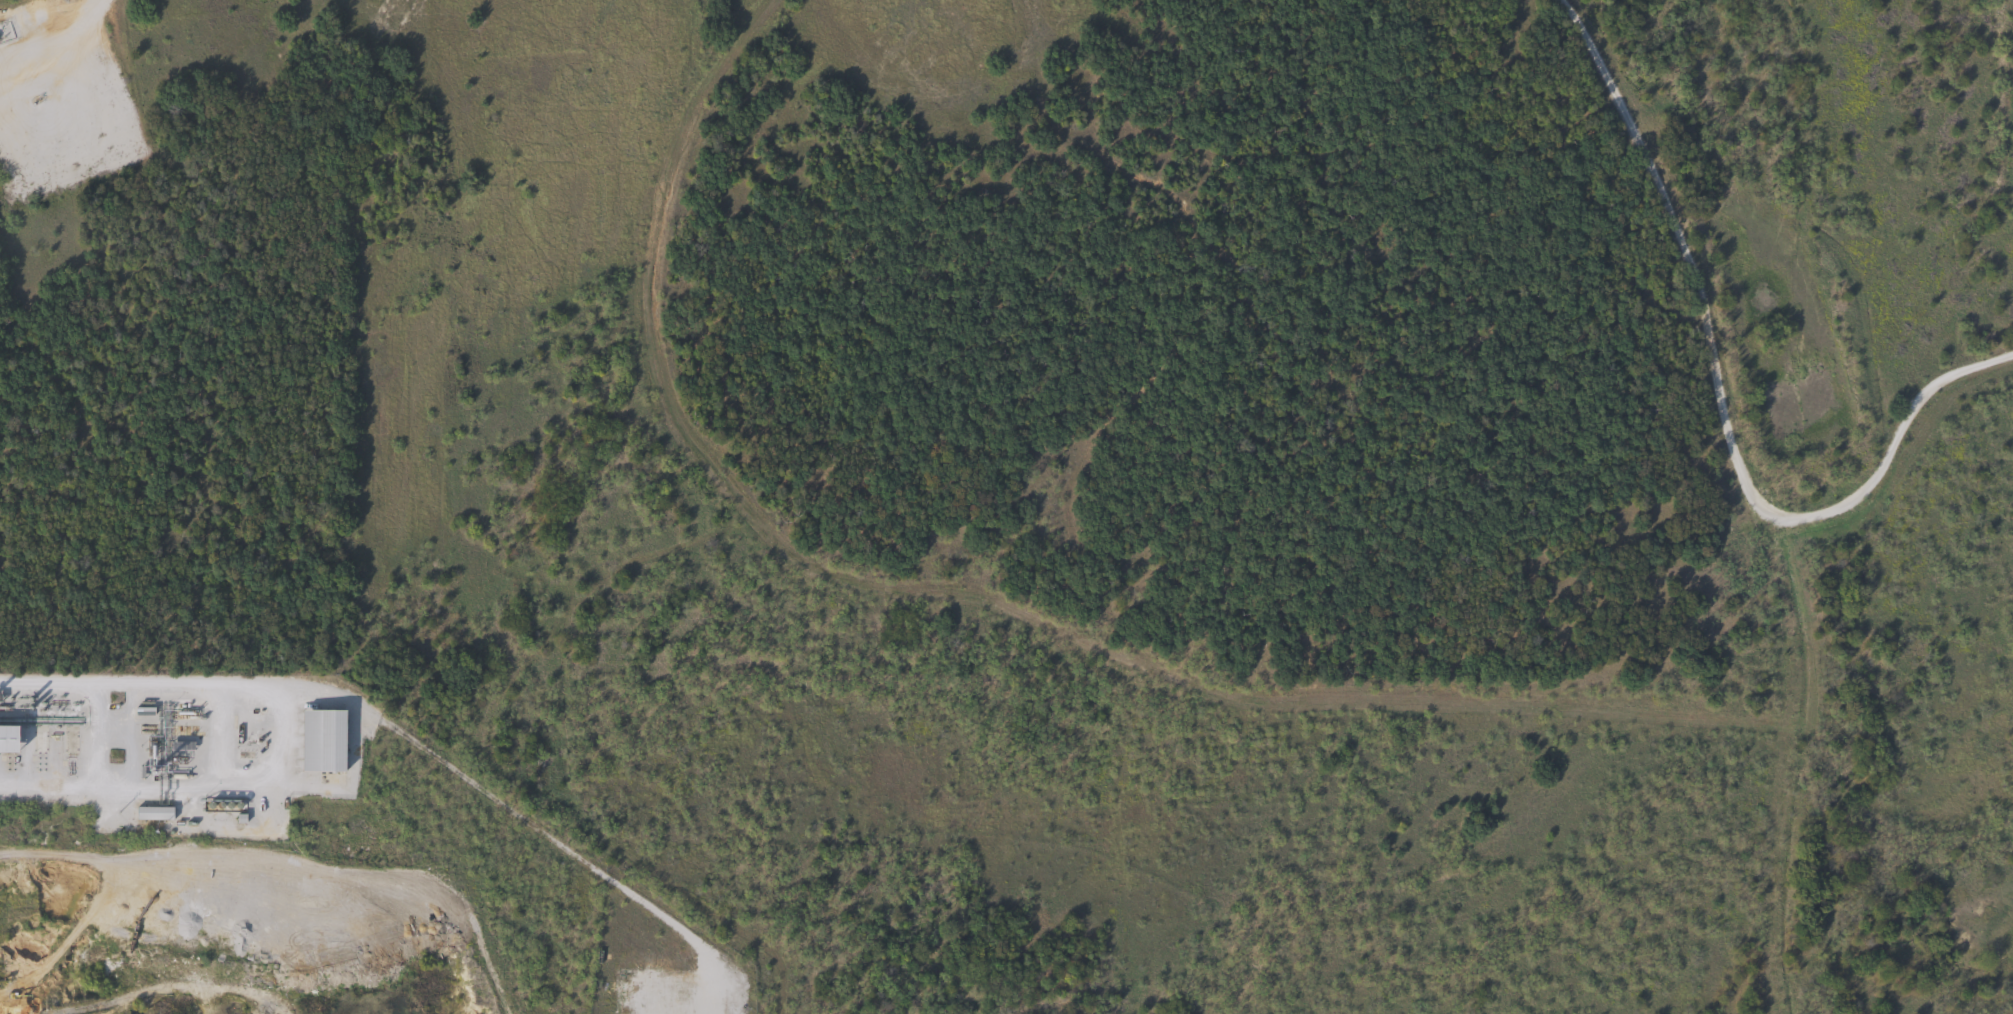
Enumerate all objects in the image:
road: (1723, 402)
building: (7, 739)
building: (319, 740)
building: (151, 813)

